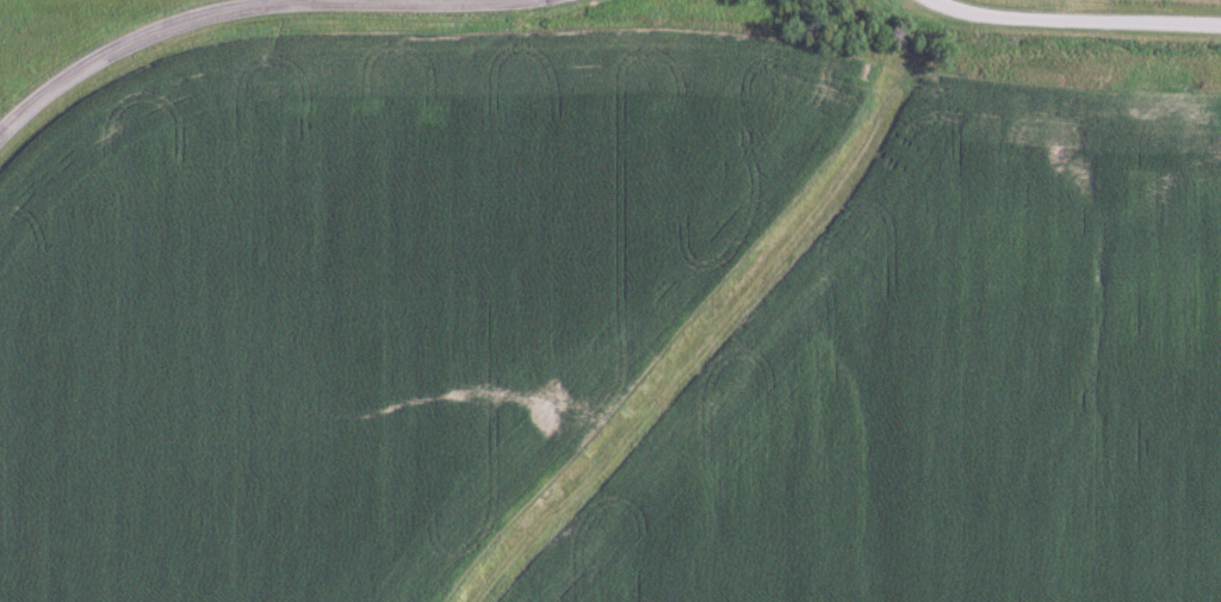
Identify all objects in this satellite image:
road: (250, 6)
road: (1077, 15)

